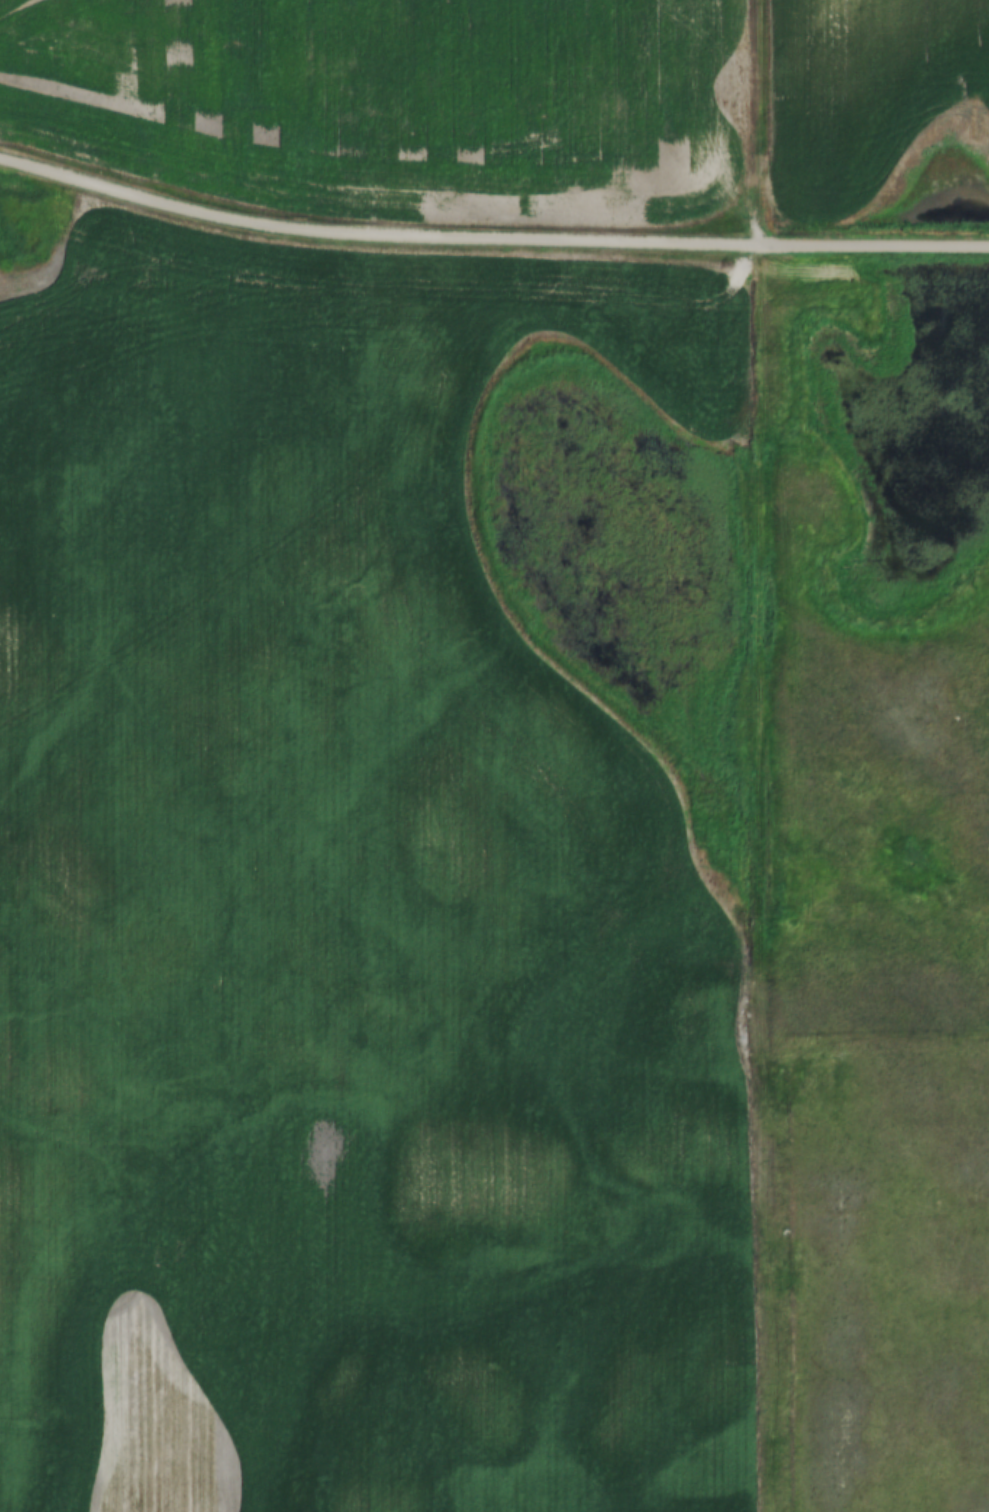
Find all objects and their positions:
road: (489, 235)
road: (769, 756)

